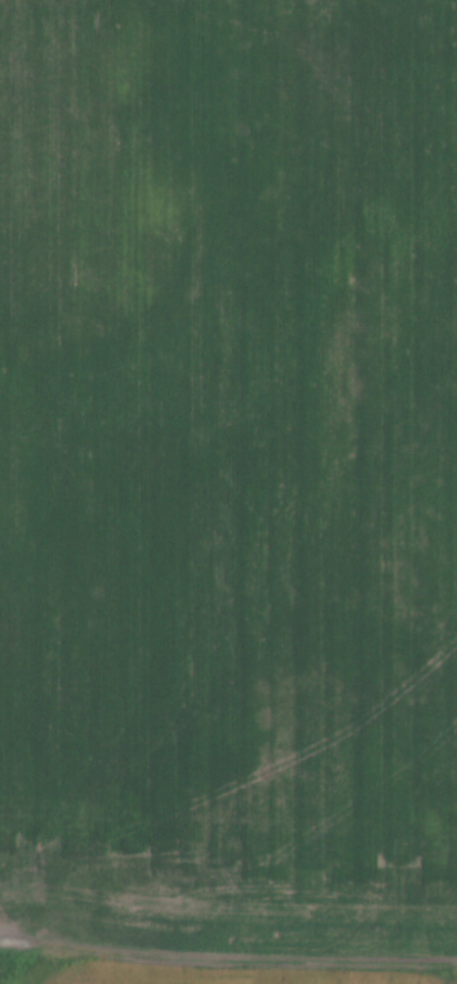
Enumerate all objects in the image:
road: (228, 956)

